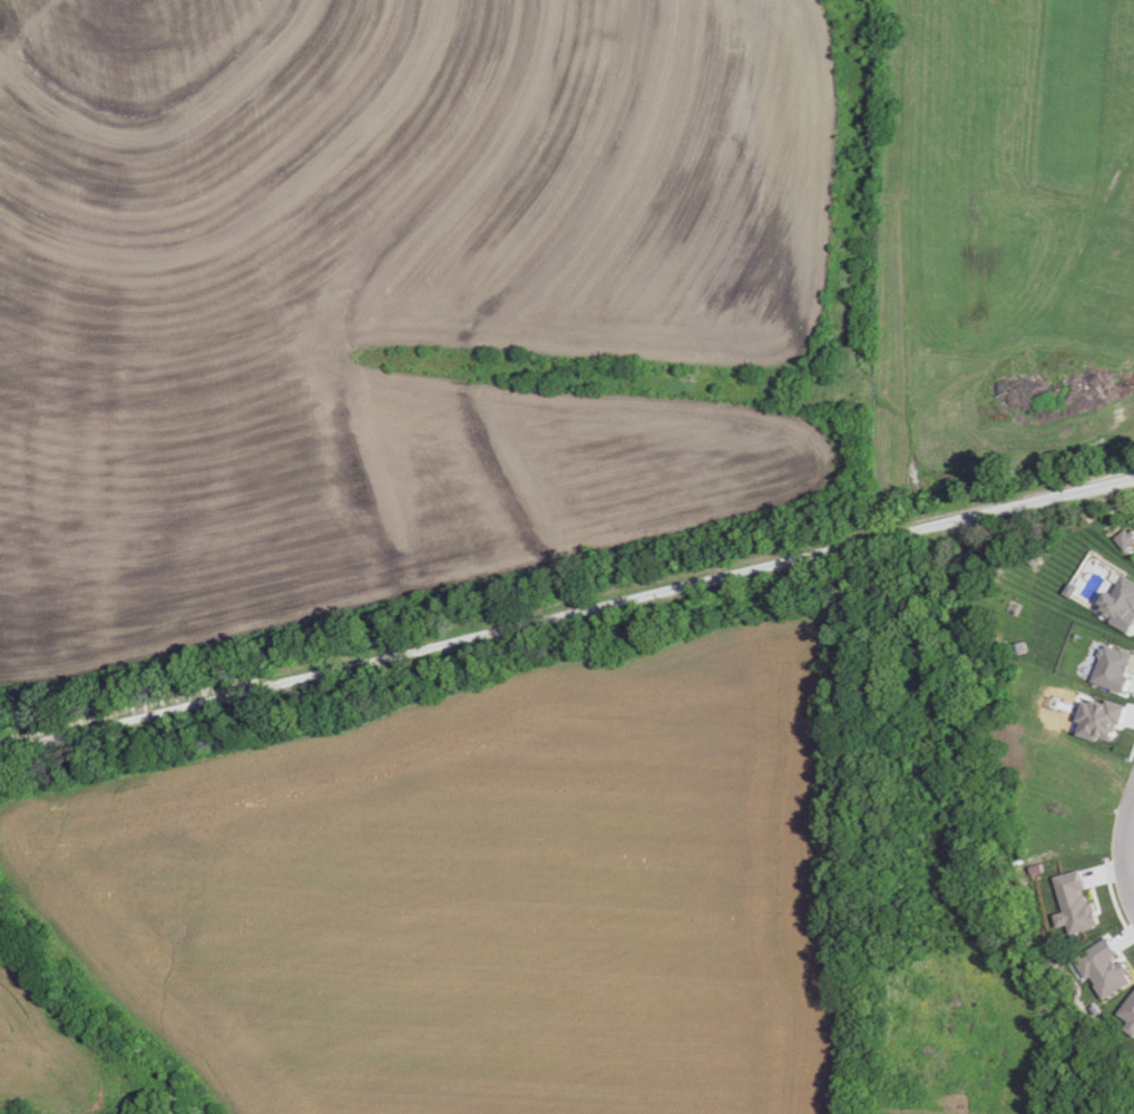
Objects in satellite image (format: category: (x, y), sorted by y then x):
crop: (414, 302)
road: (453, 590)
road: (566, 607)
road: (1122, 849)
crop: (479, 891)
crop: (67, 1047)

